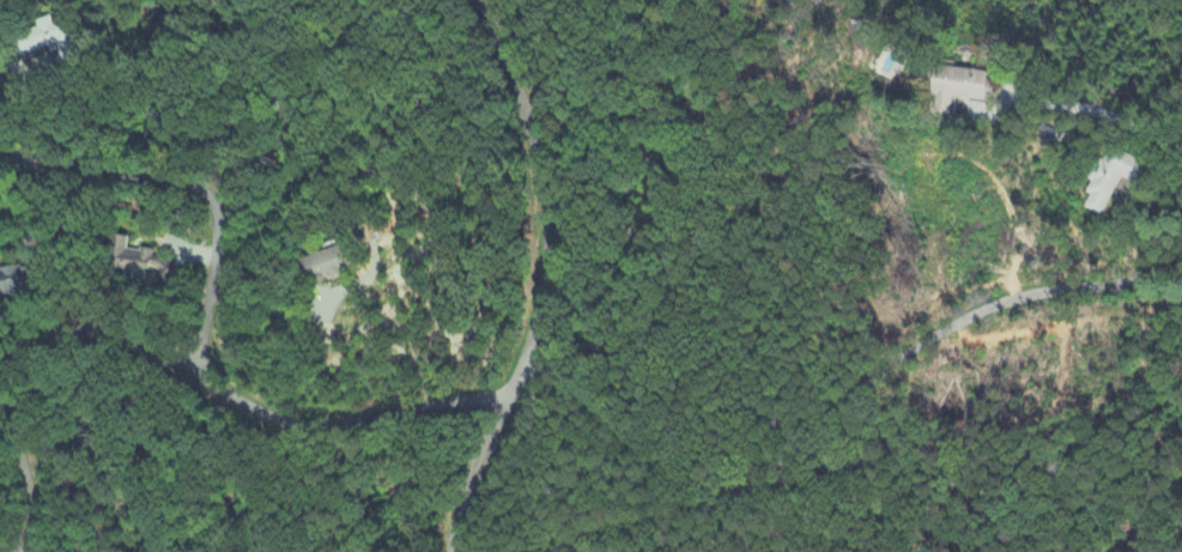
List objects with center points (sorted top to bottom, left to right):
building: (44, 40)
building: (953, 89)
road: (1105, 113)
road: (28, 116)
building: (1108, 180)
road: (196, 184)
building: (137, 263)
building: (321, 266)
road: (547, 278)
building: (12, 283)
road: (163, 352)
road: (841, 408)

